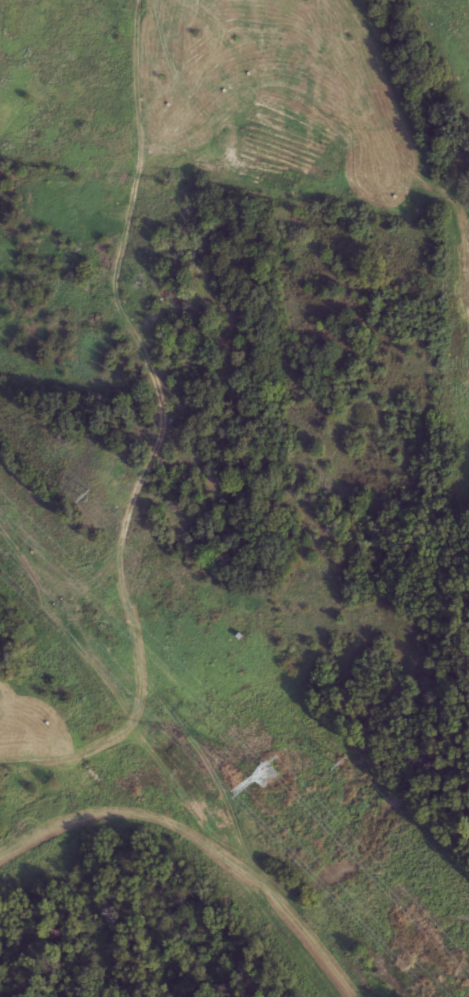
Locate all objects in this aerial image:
power tower: (267, 777)

